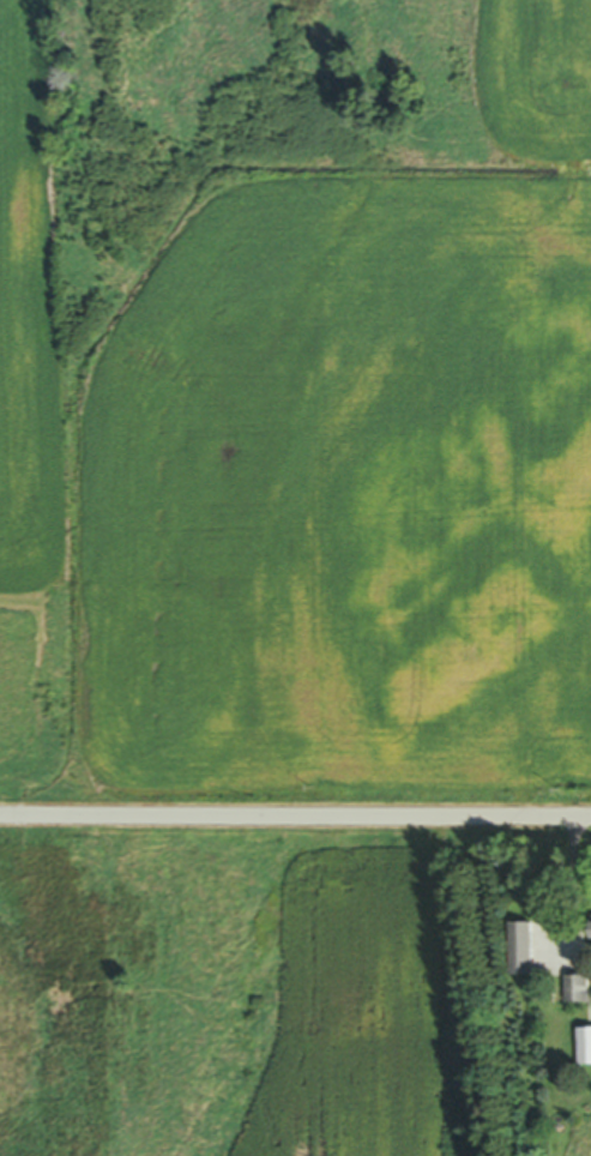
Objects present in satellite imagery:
road: (295, 815)
building: (524, 952)
building: (579, 993)

